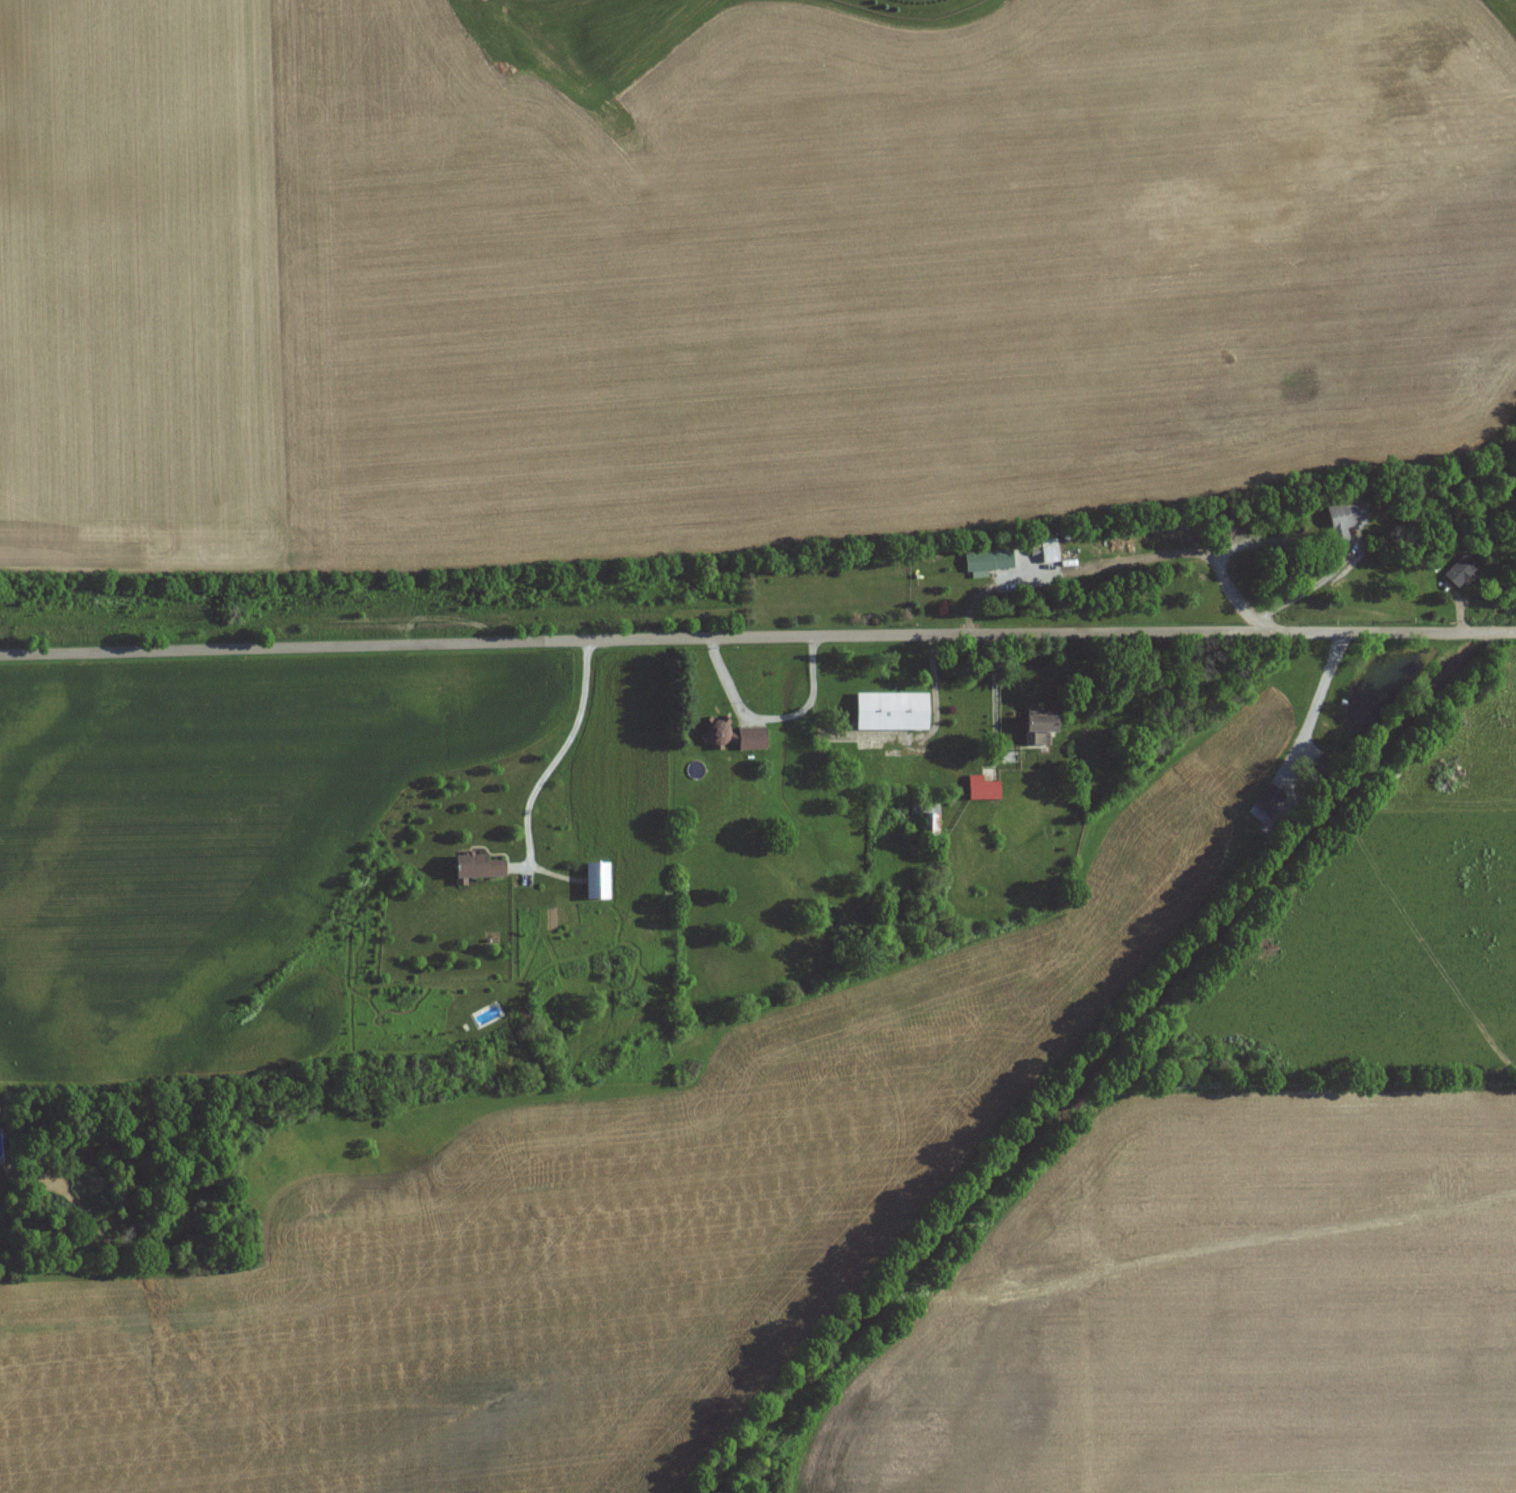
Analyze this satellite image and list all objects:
building: (1340, 520)
road: (1109, 561)
building: (984, 563)
road: (1298, 596)
road: (757, 636)
road: (993, 691)
road: (1319, 695)
building: (889, 712)
road: (771, 719)
building: (1034, 730)
building: (715, 736)
road: (914, 736)
building: (750, 739)
road: (546, 773)
building: (979, 789)
building: (926, 826)
building: (598, 880)

